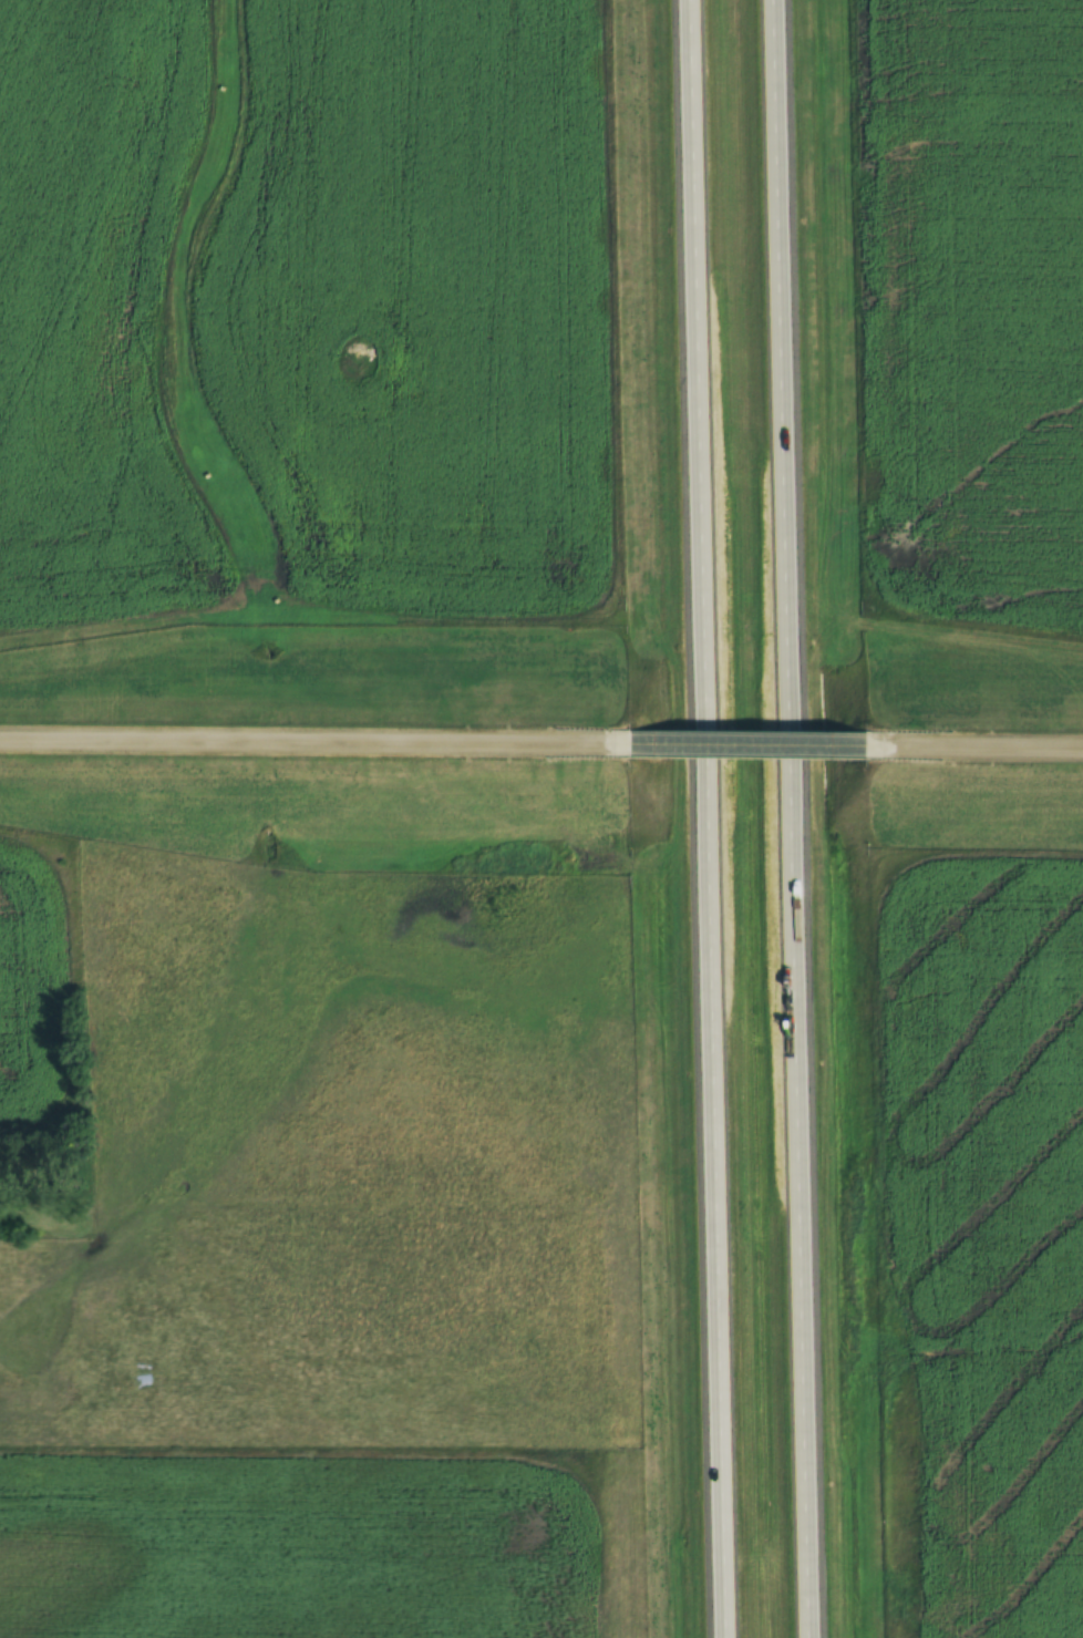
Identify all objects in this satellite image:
road: (309, 740)
road: (747, 742)
road: (980, 744)
road: (706, 818)
road: (800, 818)
building: (142, 1382)

